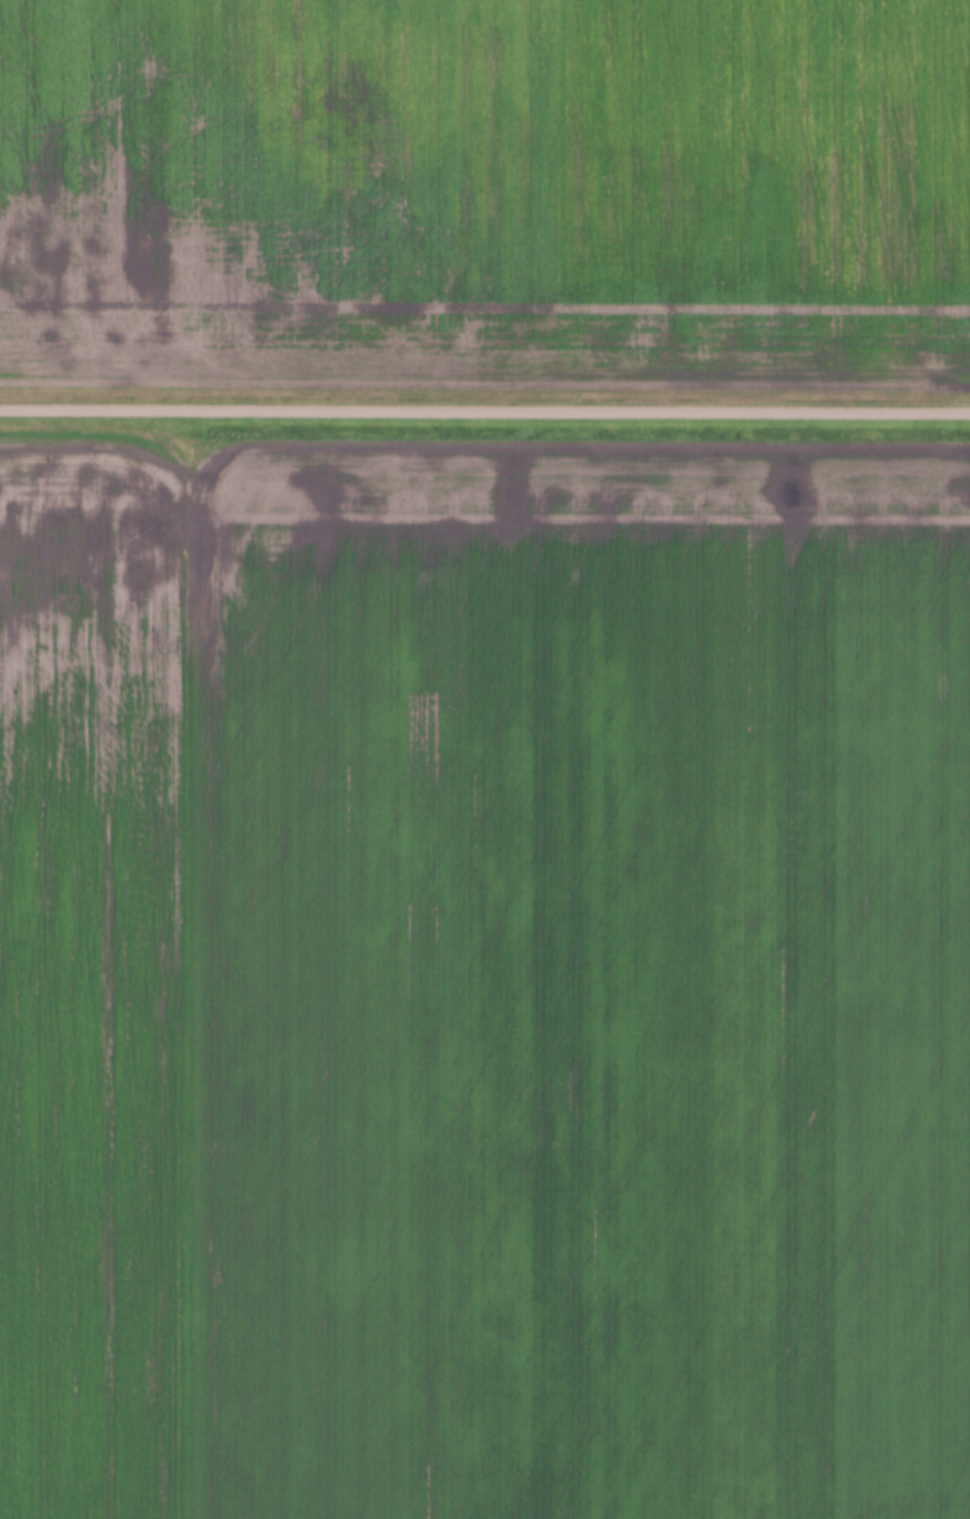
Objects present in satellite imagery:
road: (485, 409)

